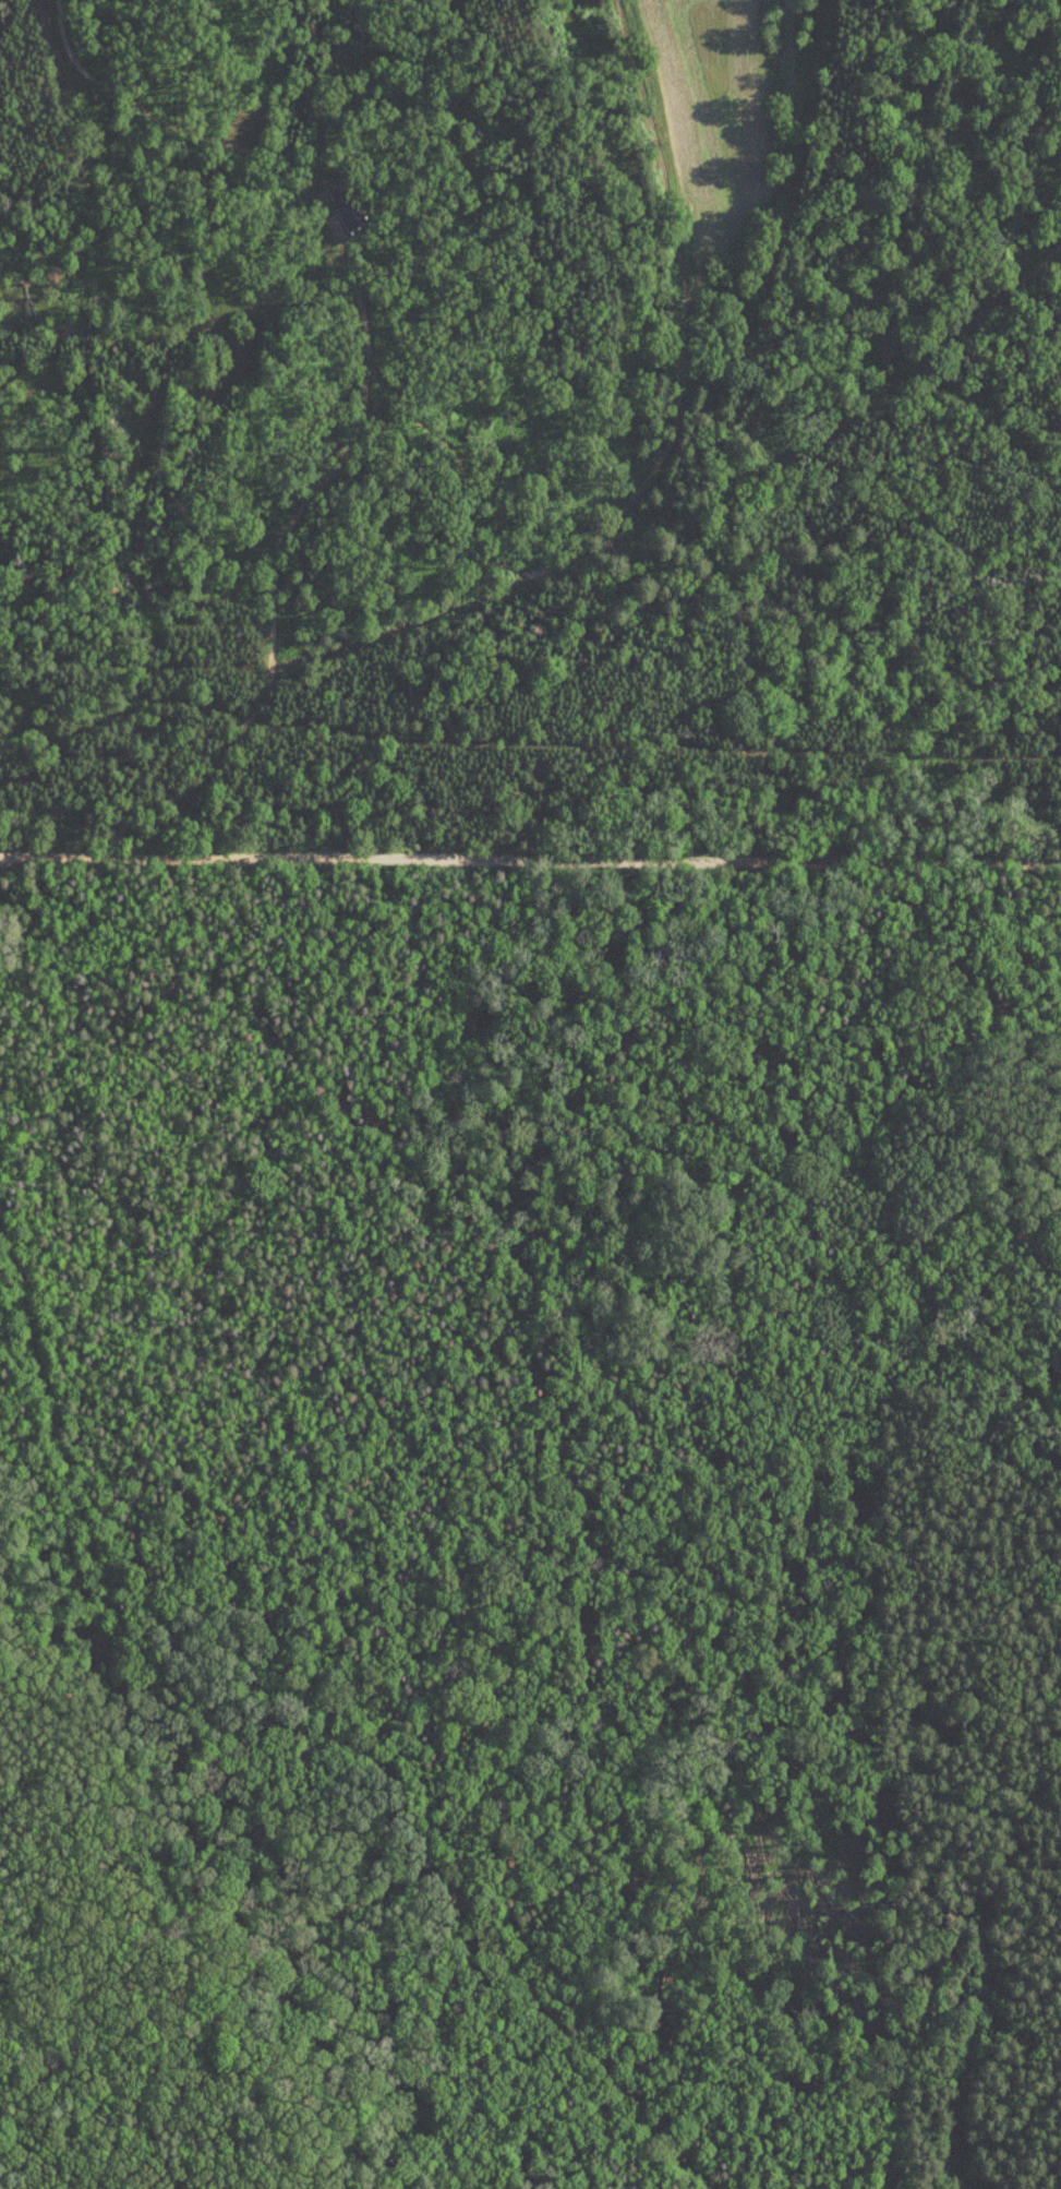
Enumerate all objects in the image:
road: (530, 858)
road: (688, 1360)
road: (57, 1419)
park: (530, 1497)
road: (267, 1719)
road: (531, 1988)

